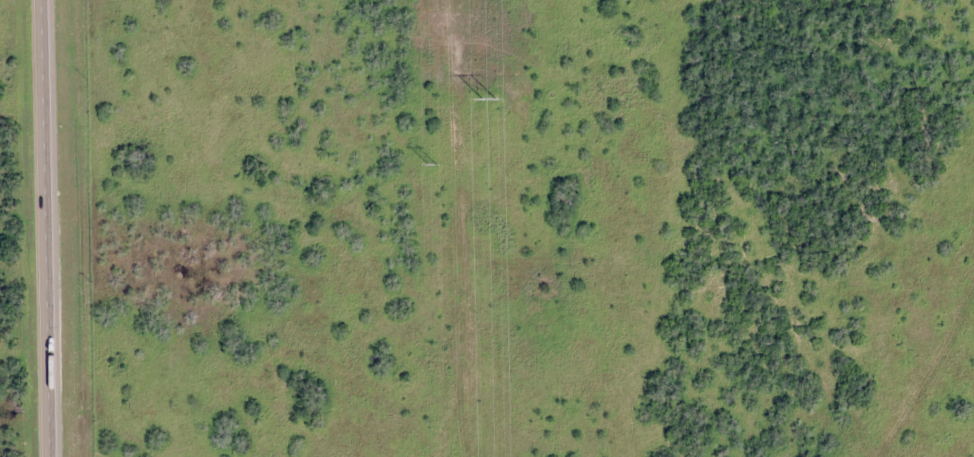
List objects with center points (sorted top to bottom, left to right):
power tower: (484, 101)
power tower: (431, 165)
road: (46, 228)

